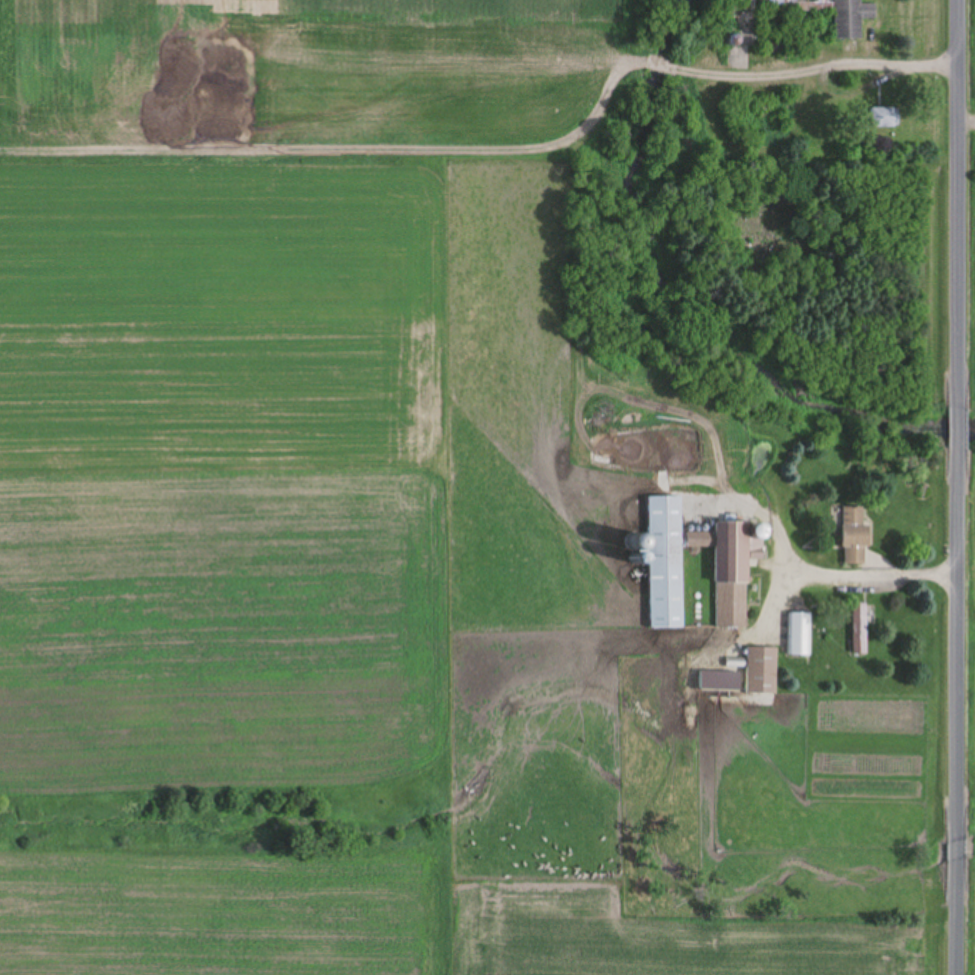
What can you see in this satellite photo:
building: (837, 14)
building: (886, 119)
crop: (971, 195)
road: (959, 204)
river: (694, 300)
road: (960, 429)
building: (857, 536)
building: (667, 562)
building: (735, 572)
building: (861, 629)
building: (764, 669)
building: (721, 680)
road: (963, 712)

